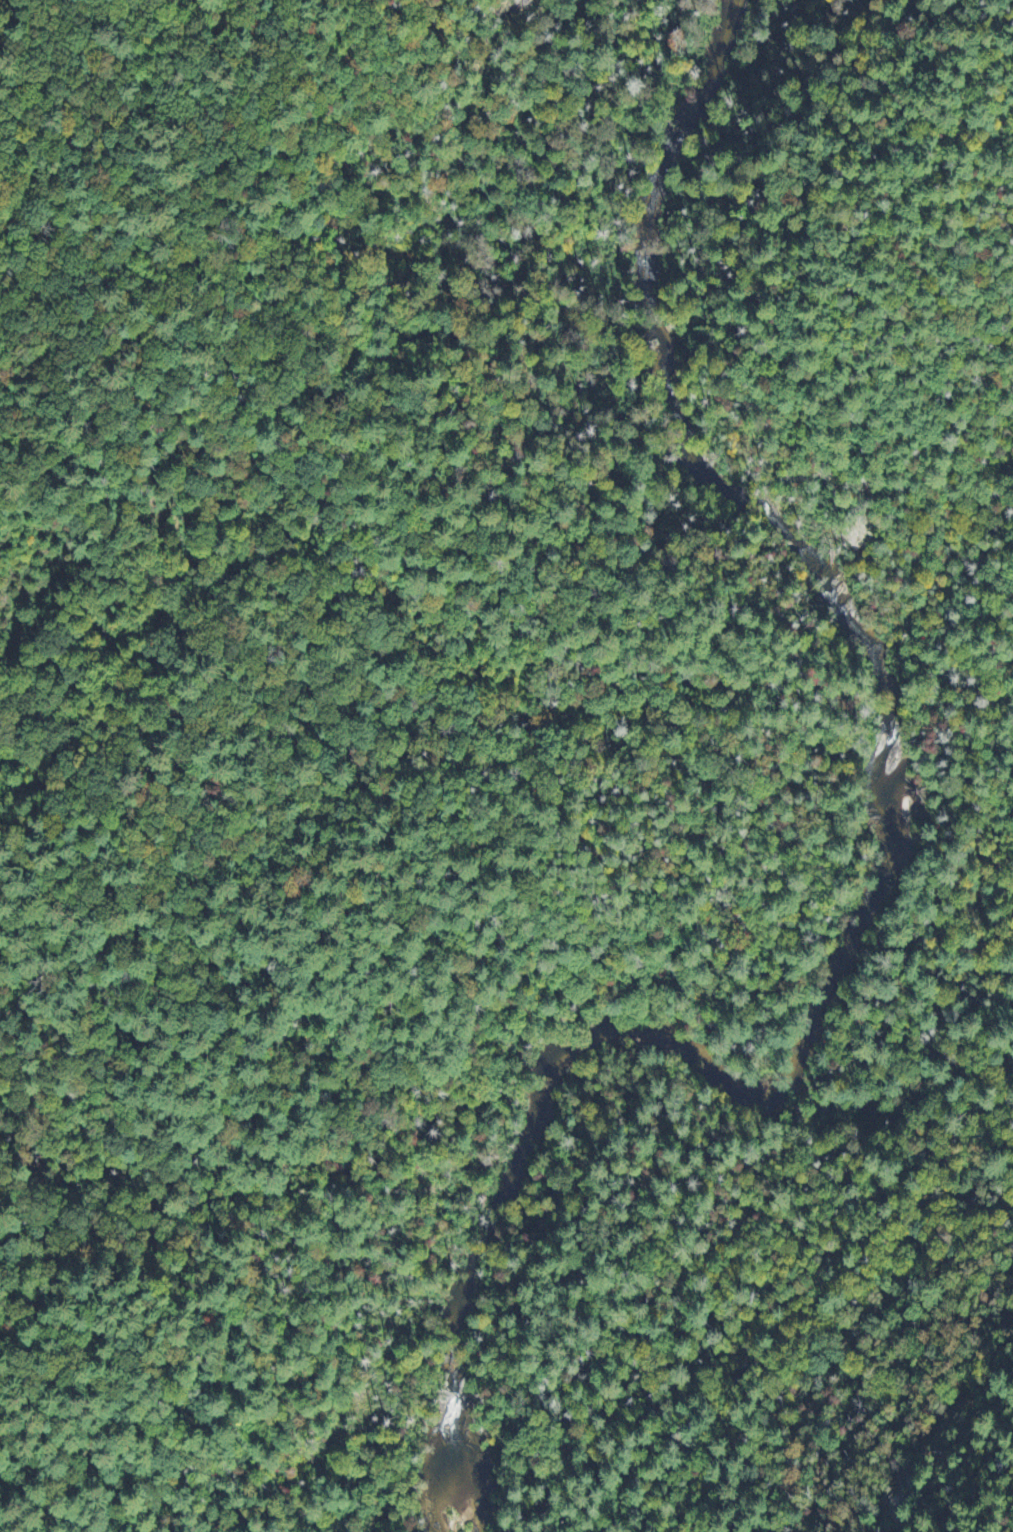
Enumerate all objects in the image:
river: (880, 891)

